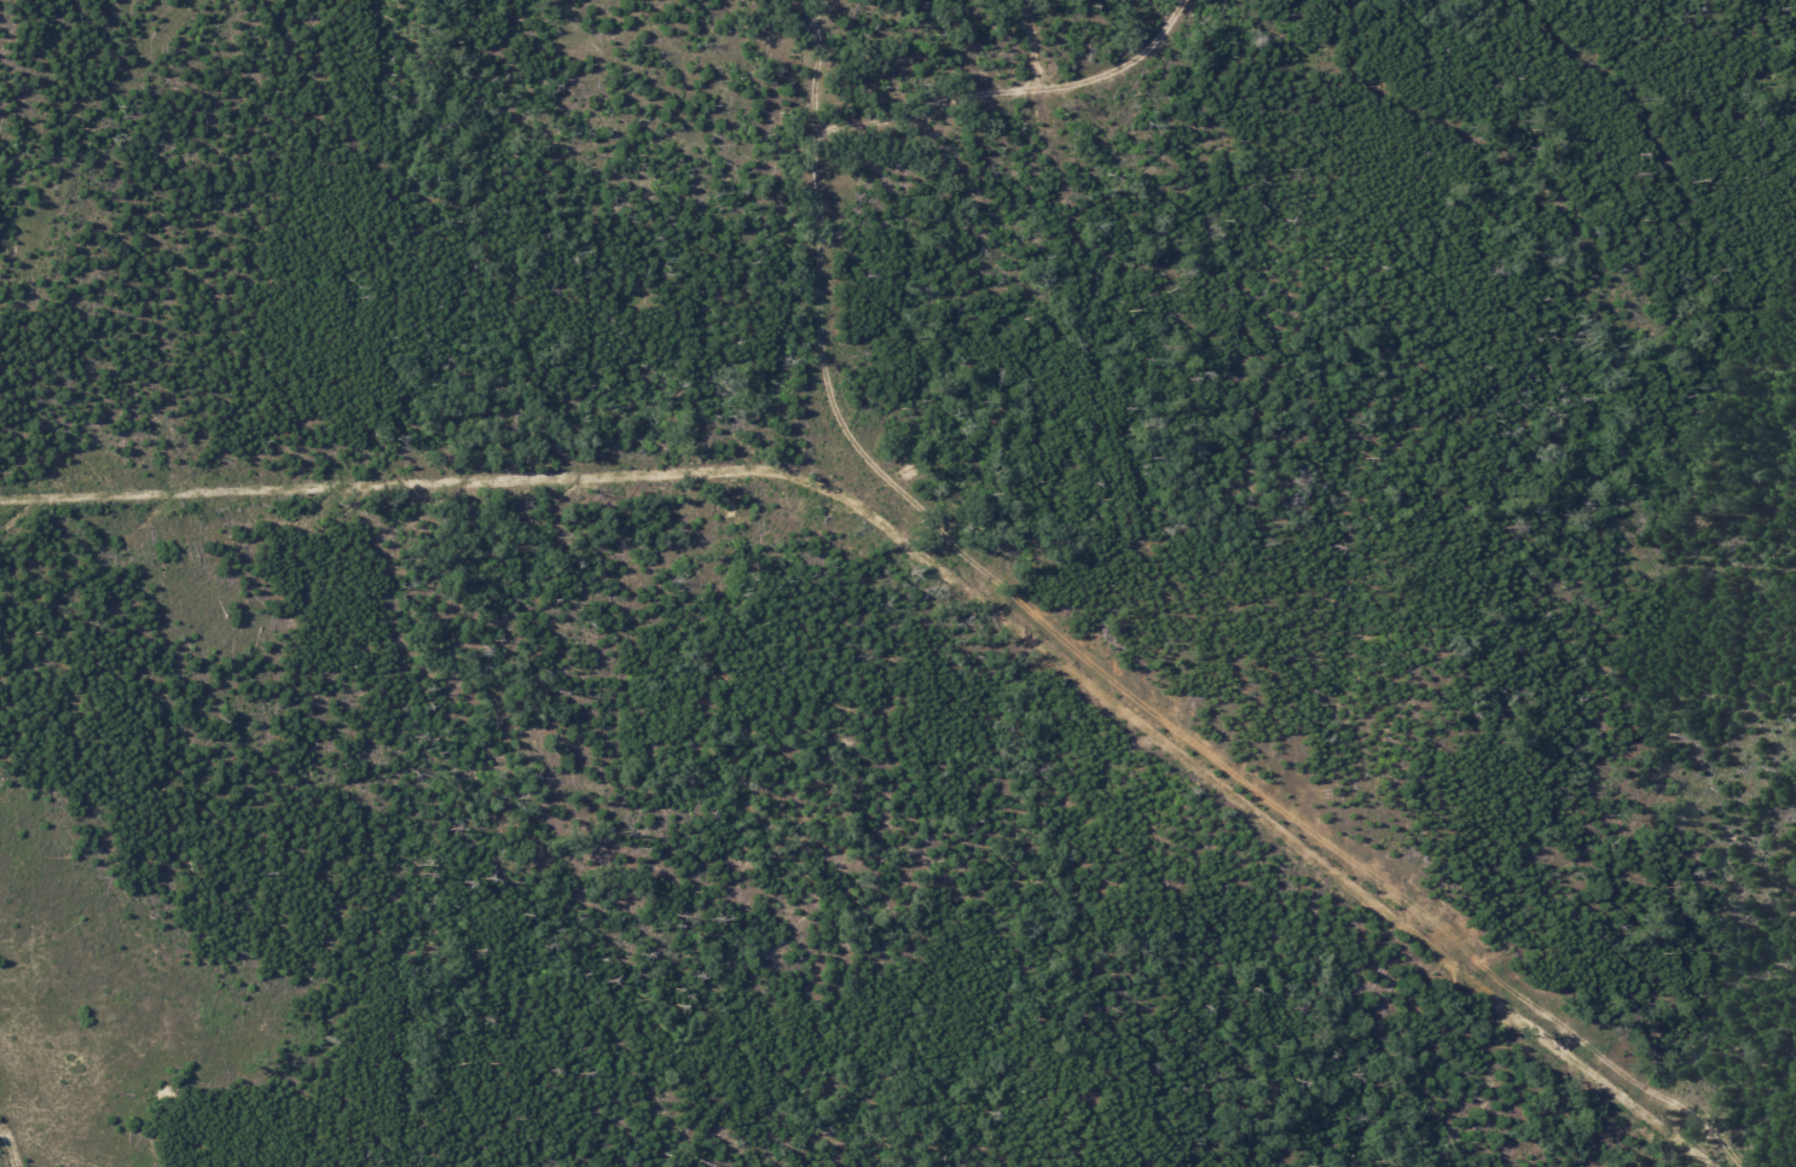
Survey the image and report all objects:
park: (686, 867)

